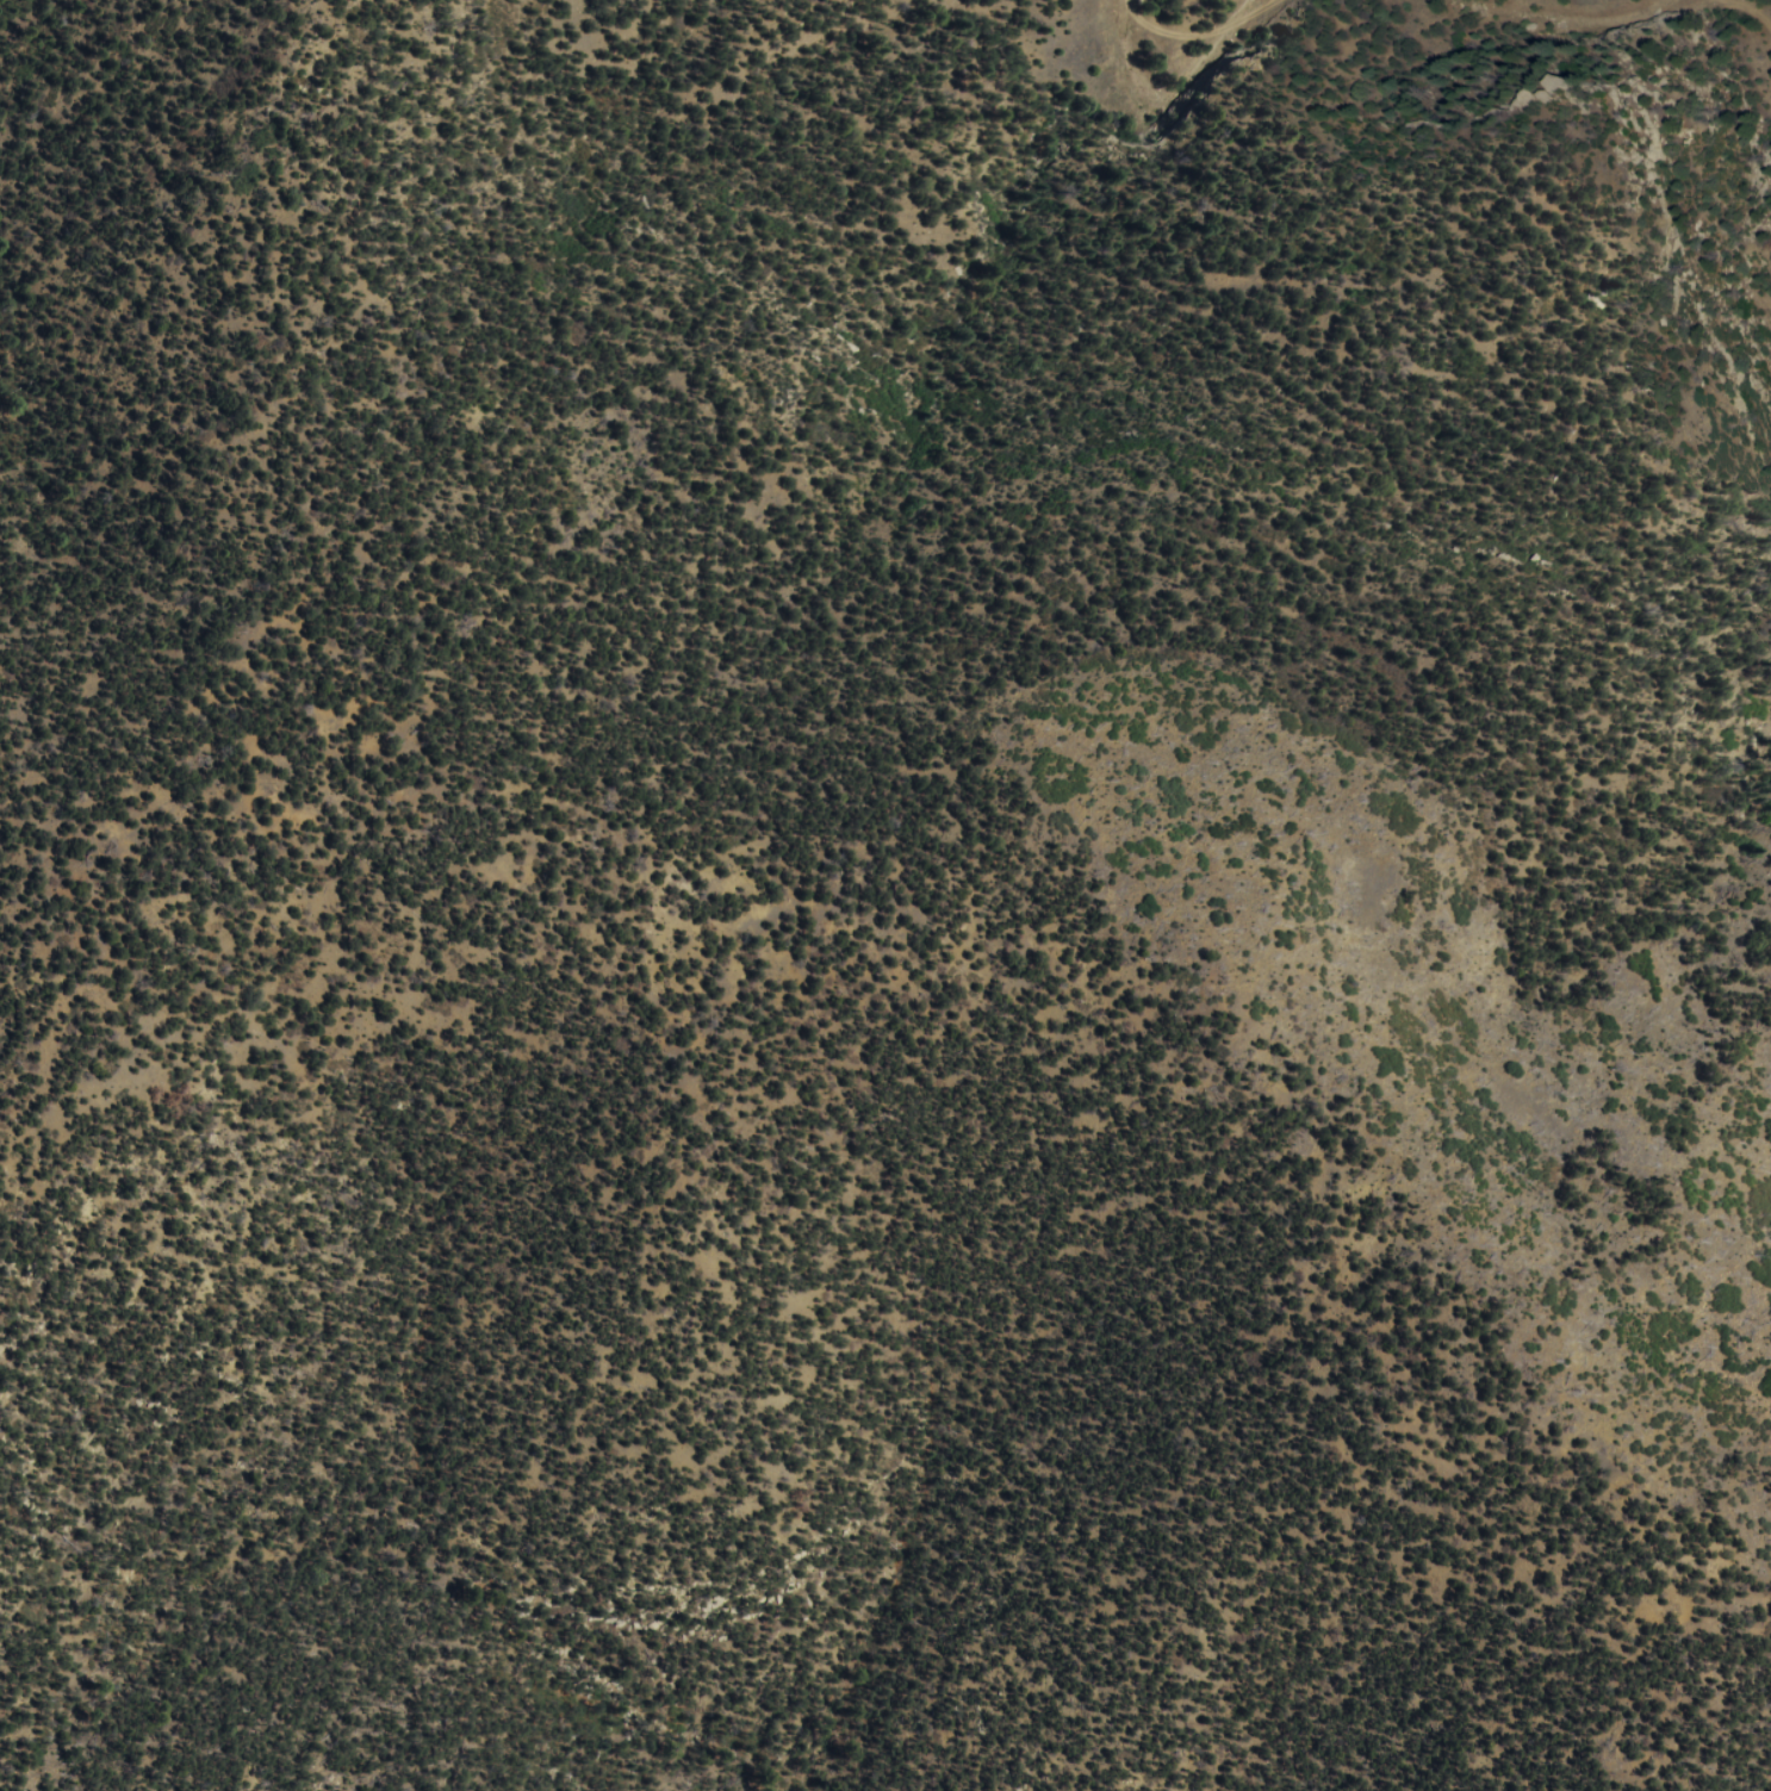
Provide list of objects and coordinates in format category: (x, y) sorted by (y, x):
road: (1747, 10)
road: (1194, 36)

